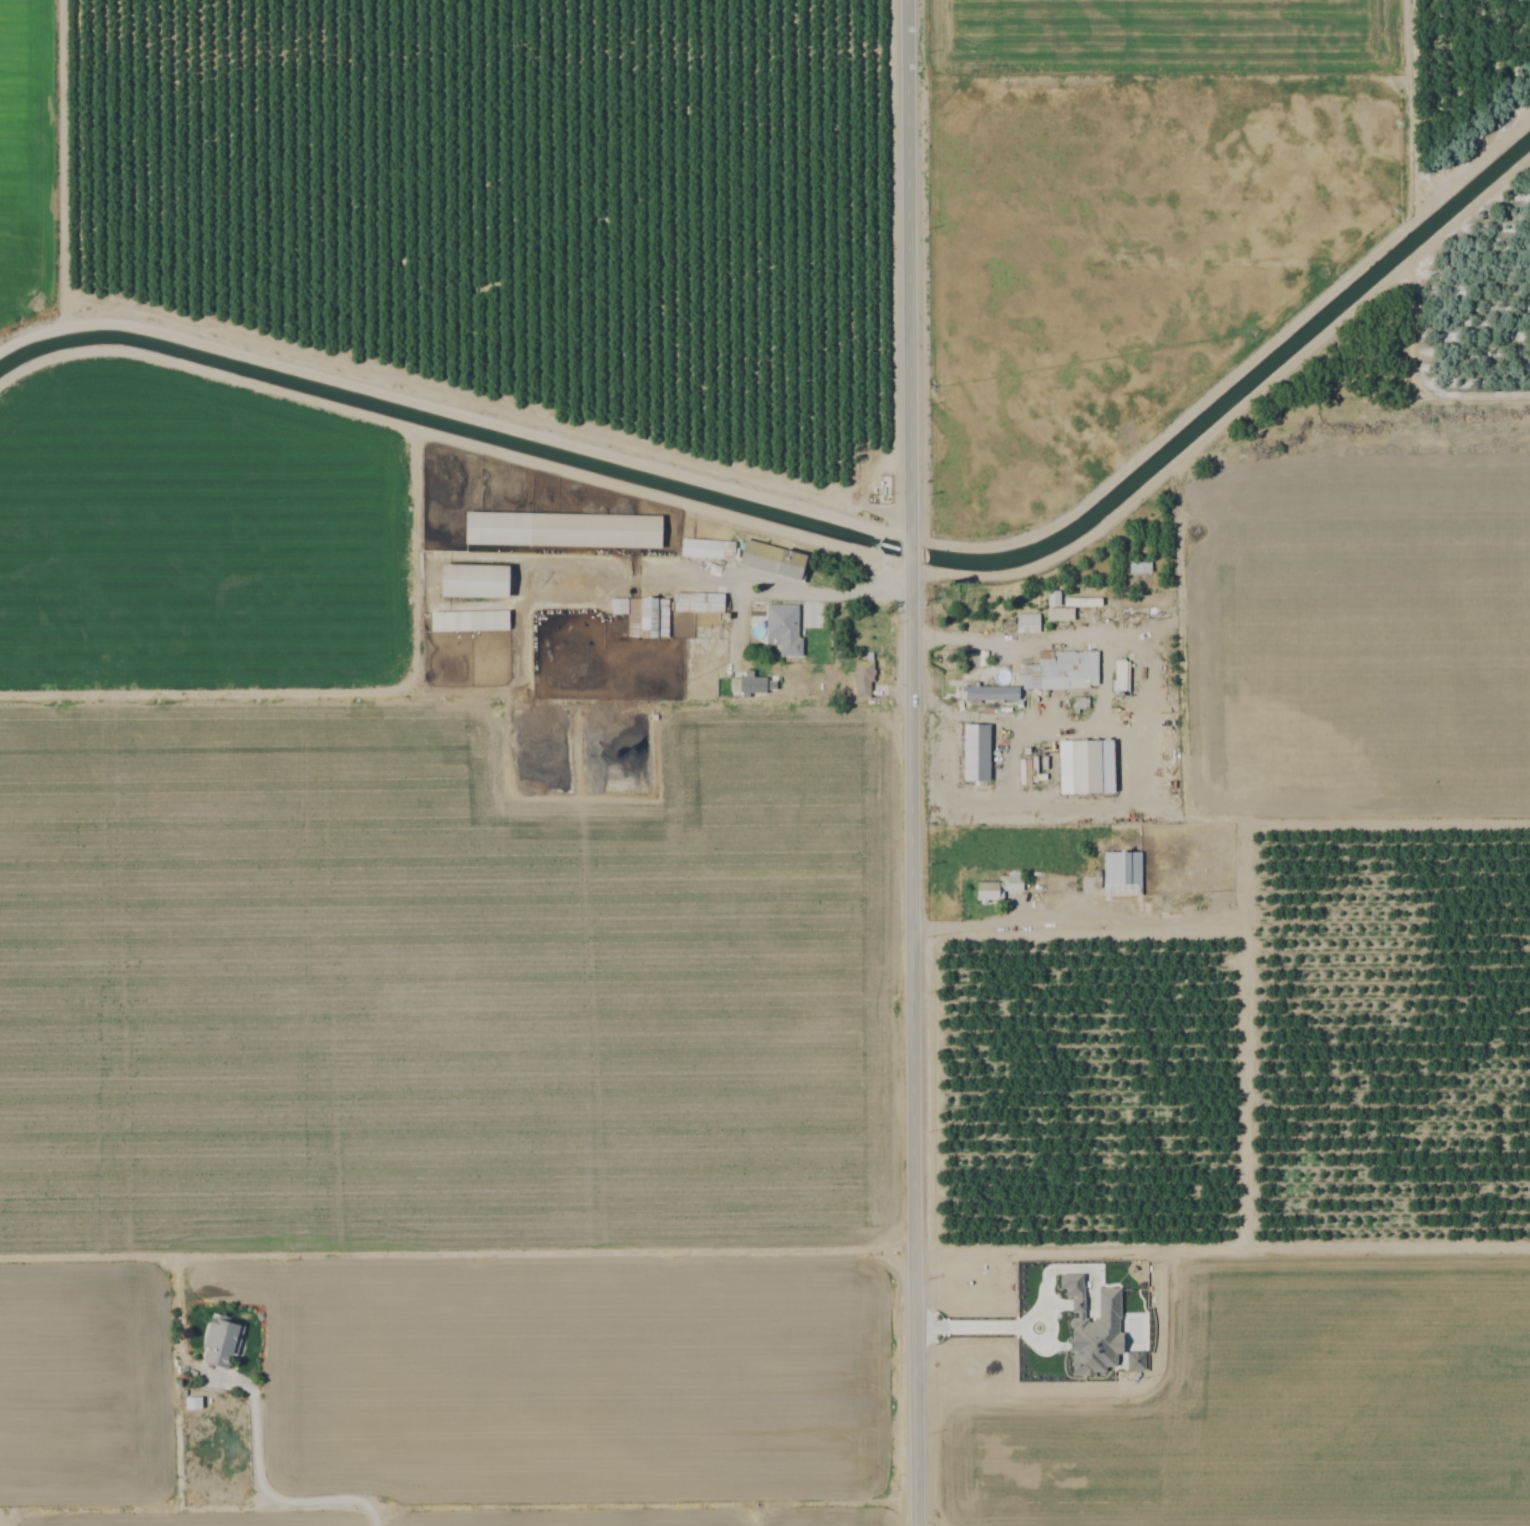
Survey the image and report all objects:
road: (452, 445)
building: (560, 530)
building: (706, 549)
building: (769, 559)
building: (1138, 568)
building: (471, 581)
road: (831, 593)
building: (1052, 598)
building: (696, 602)
building: (654, 618)
building: (467, 621)
building: (1026, 621)
building: (782, 629)
road: (997, 639)
building: (1060, 671)
building: (1120, 676)
building: (862, 679)
building: (746, 687)
road: (333, 693)
building: (988, 694)
road: (940, 708)
building: (974, 753)
road: (914, 762)
building: (1083, 767)
building: (1121, 874)
building: (1042, 880)
building: (996, 888)
road: (1047, 921)
road: (1013, 1324)
building: (221, 1345)
road: (279, 1500)

